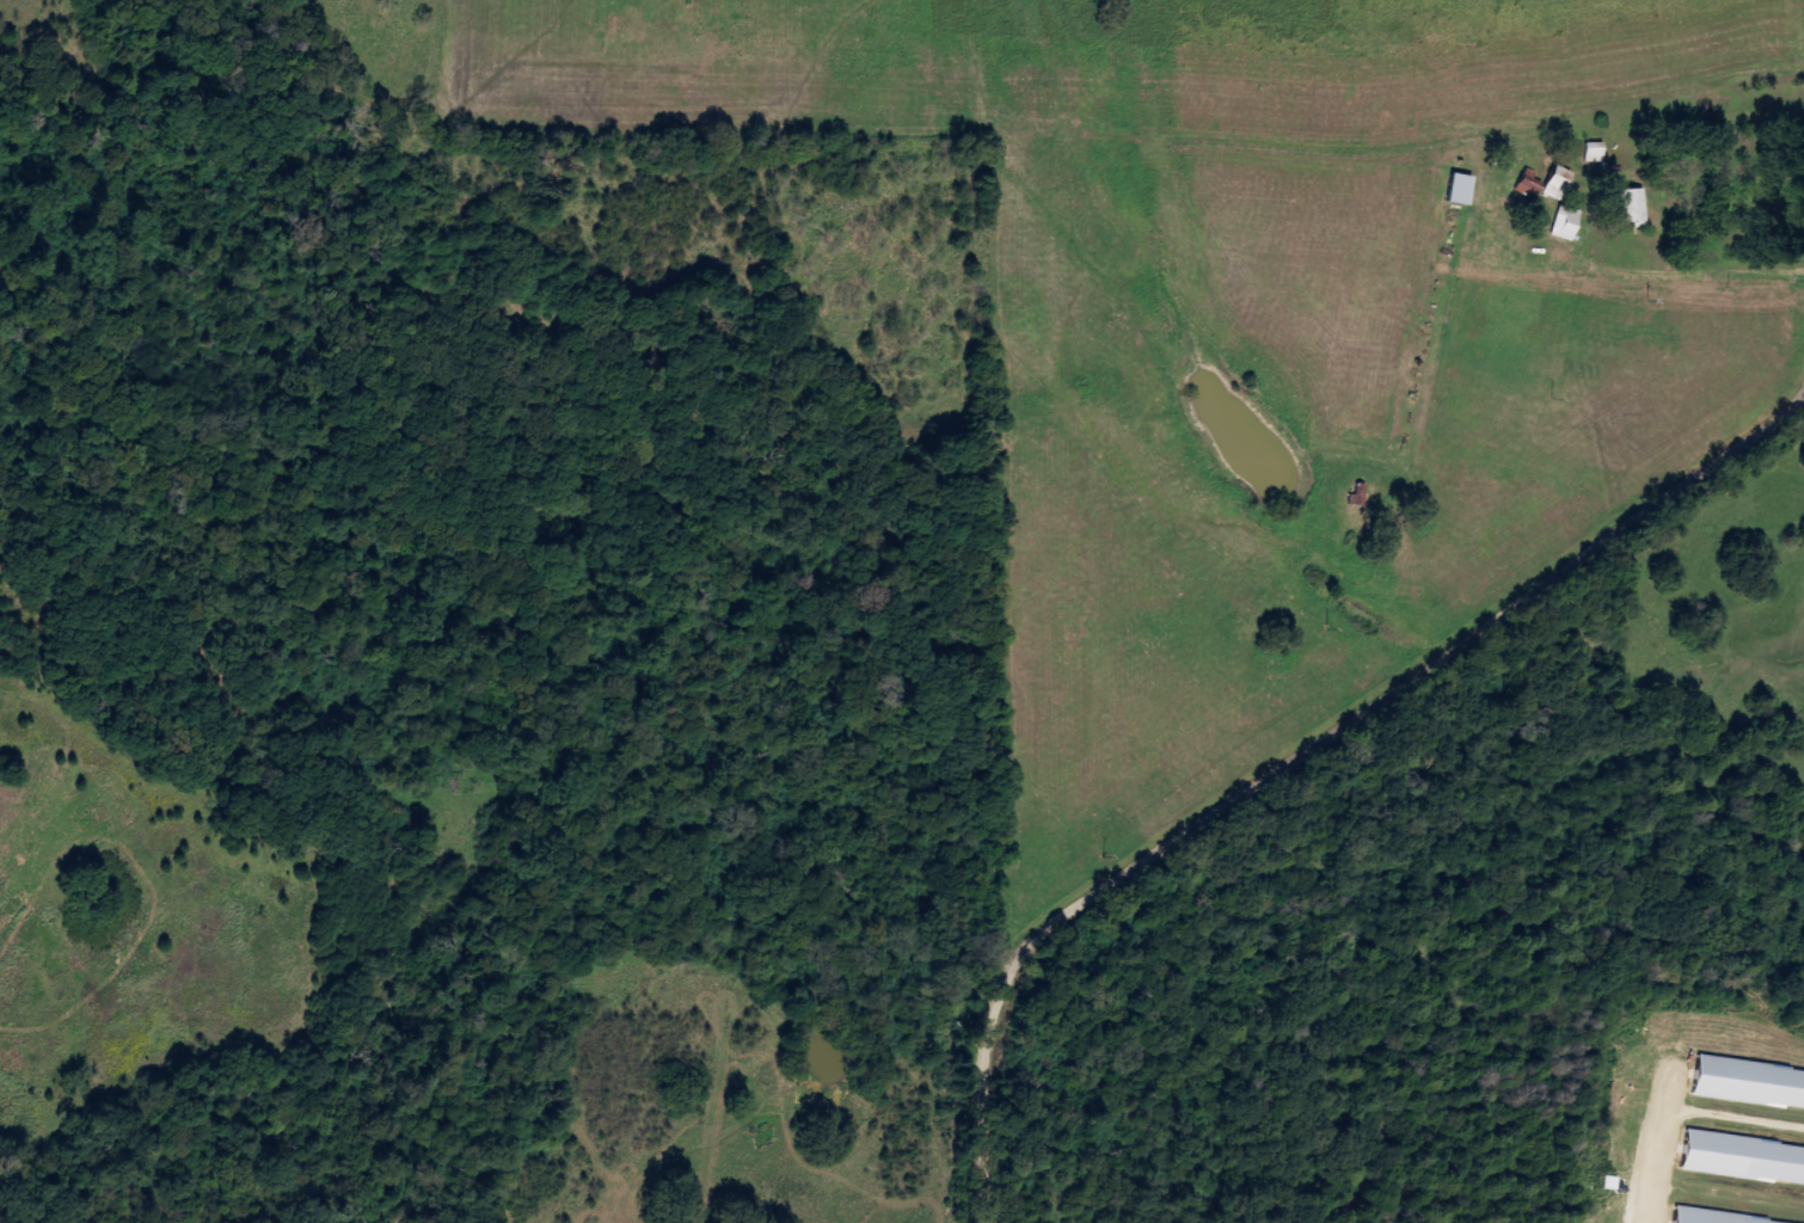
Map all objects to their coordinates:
building: (1597, 152)
building: (1560, 183)
building: (1532, 184)
building: (1462, 189)
building: (1634, 204)
building: (1569, 222)
road: (1424, 675)
road: (992, 1081)
building: (1750, 1084)
building: (1745, 1159)
building: (1710, 1218)

